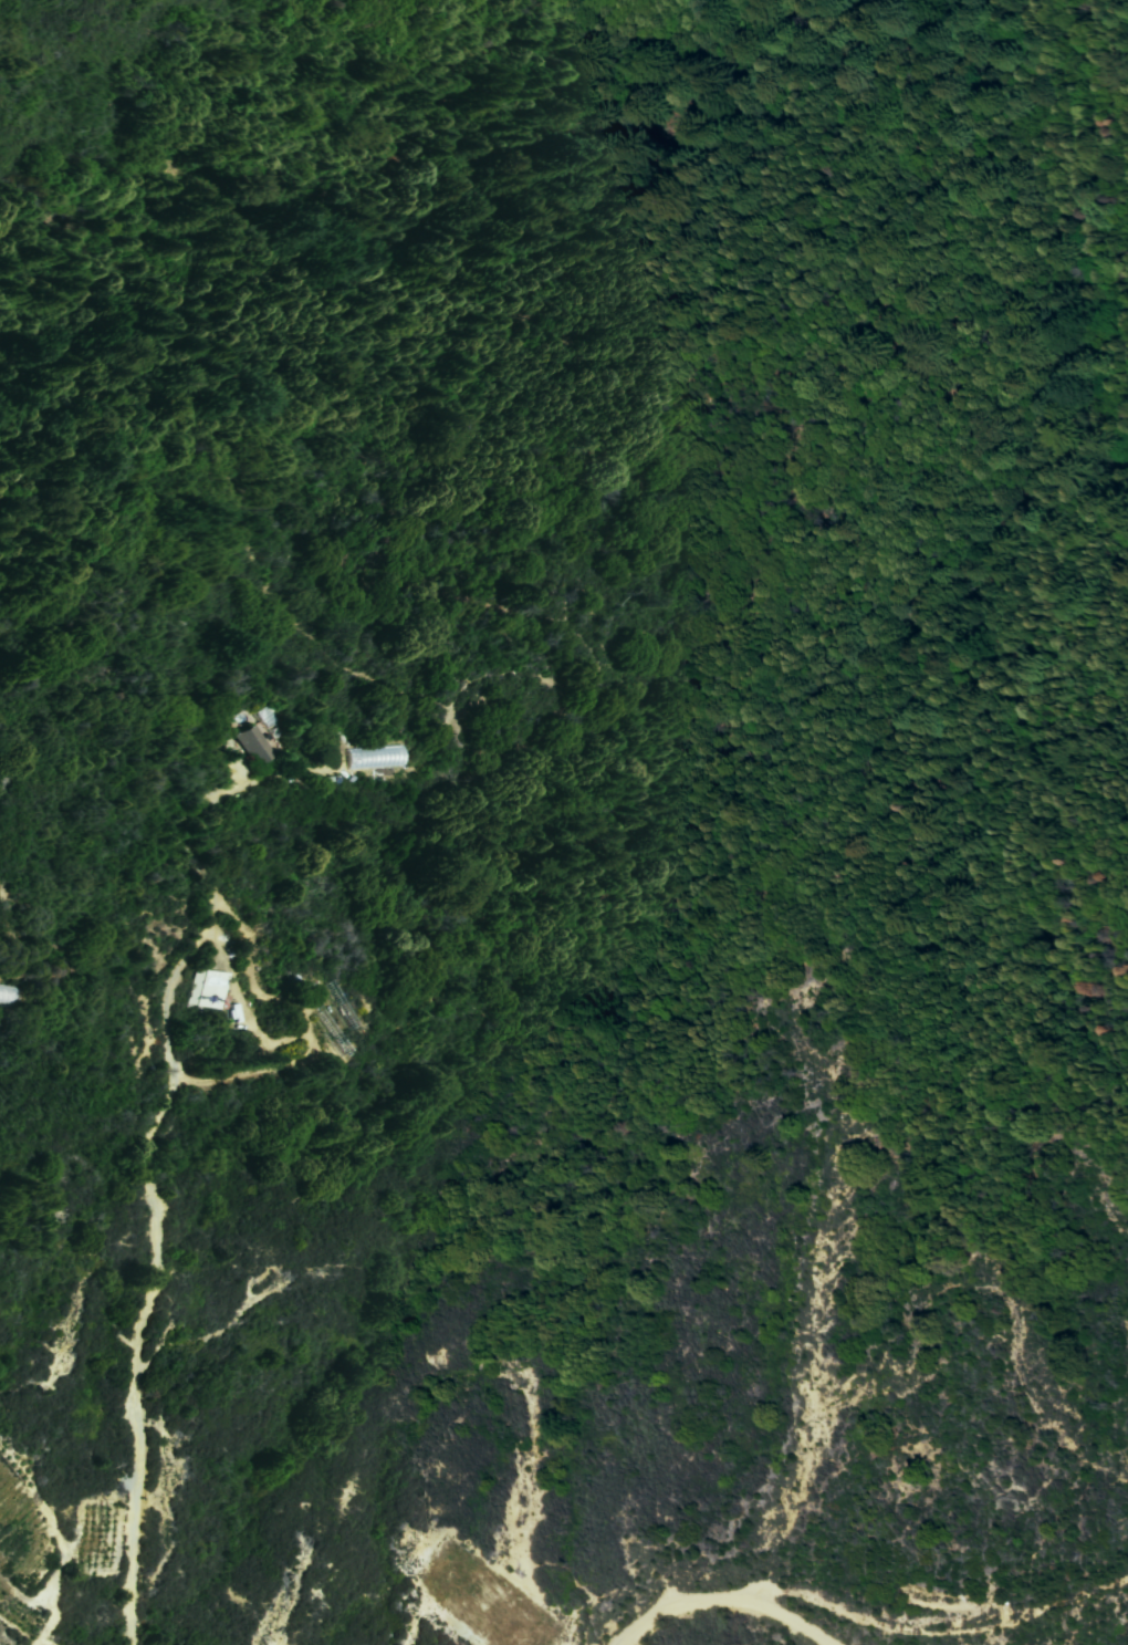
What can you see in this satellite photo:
building: (260, 750)
building: (376, 756)
building: (211, 996)
road: (148, 1139)
crop: (27, 1532)
road: (725, 1597)
road: (45, 1603)
road: (944, 1638)

